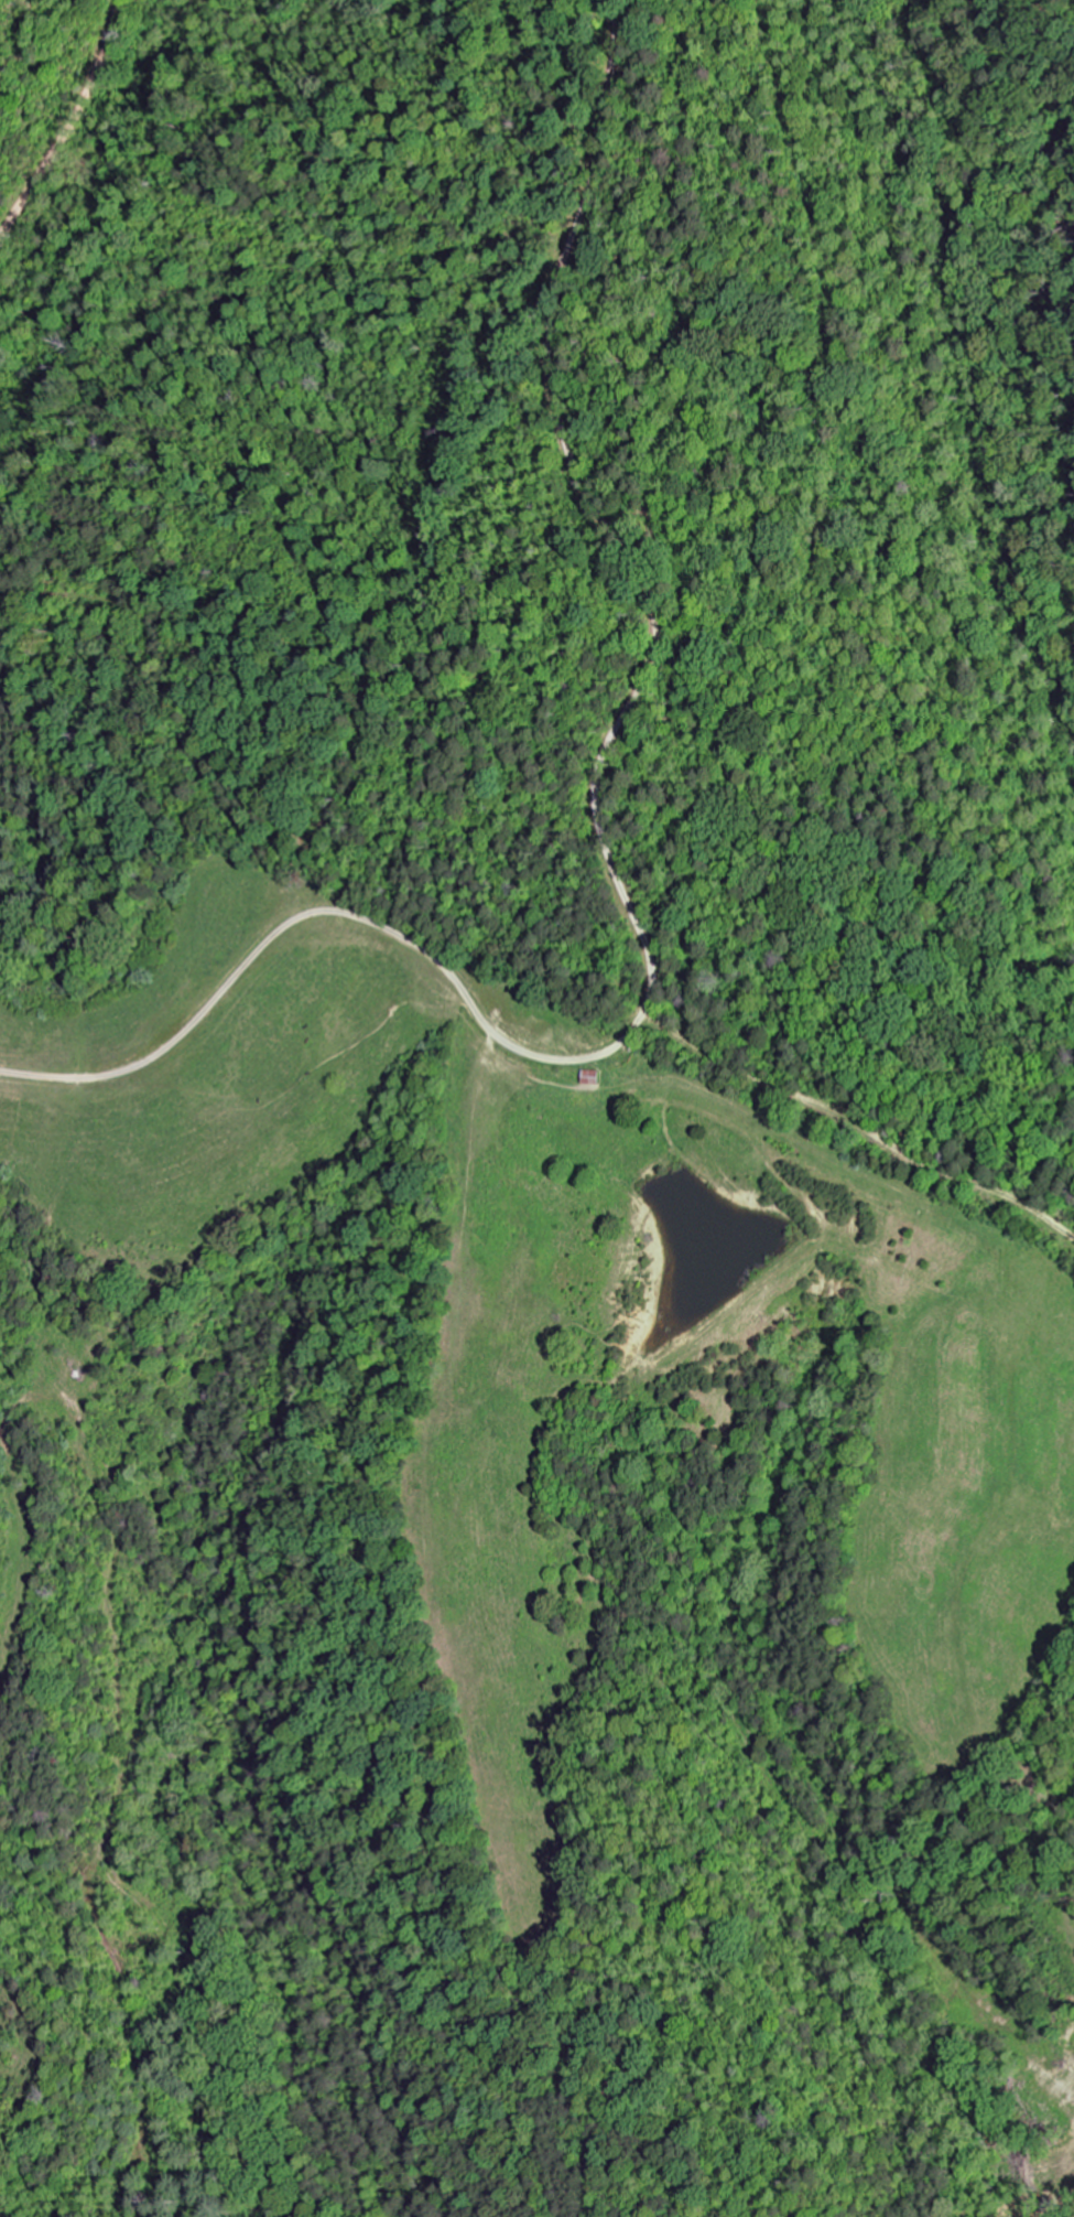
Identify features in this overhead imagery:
road: (73, 126)
road: (605, 525)

